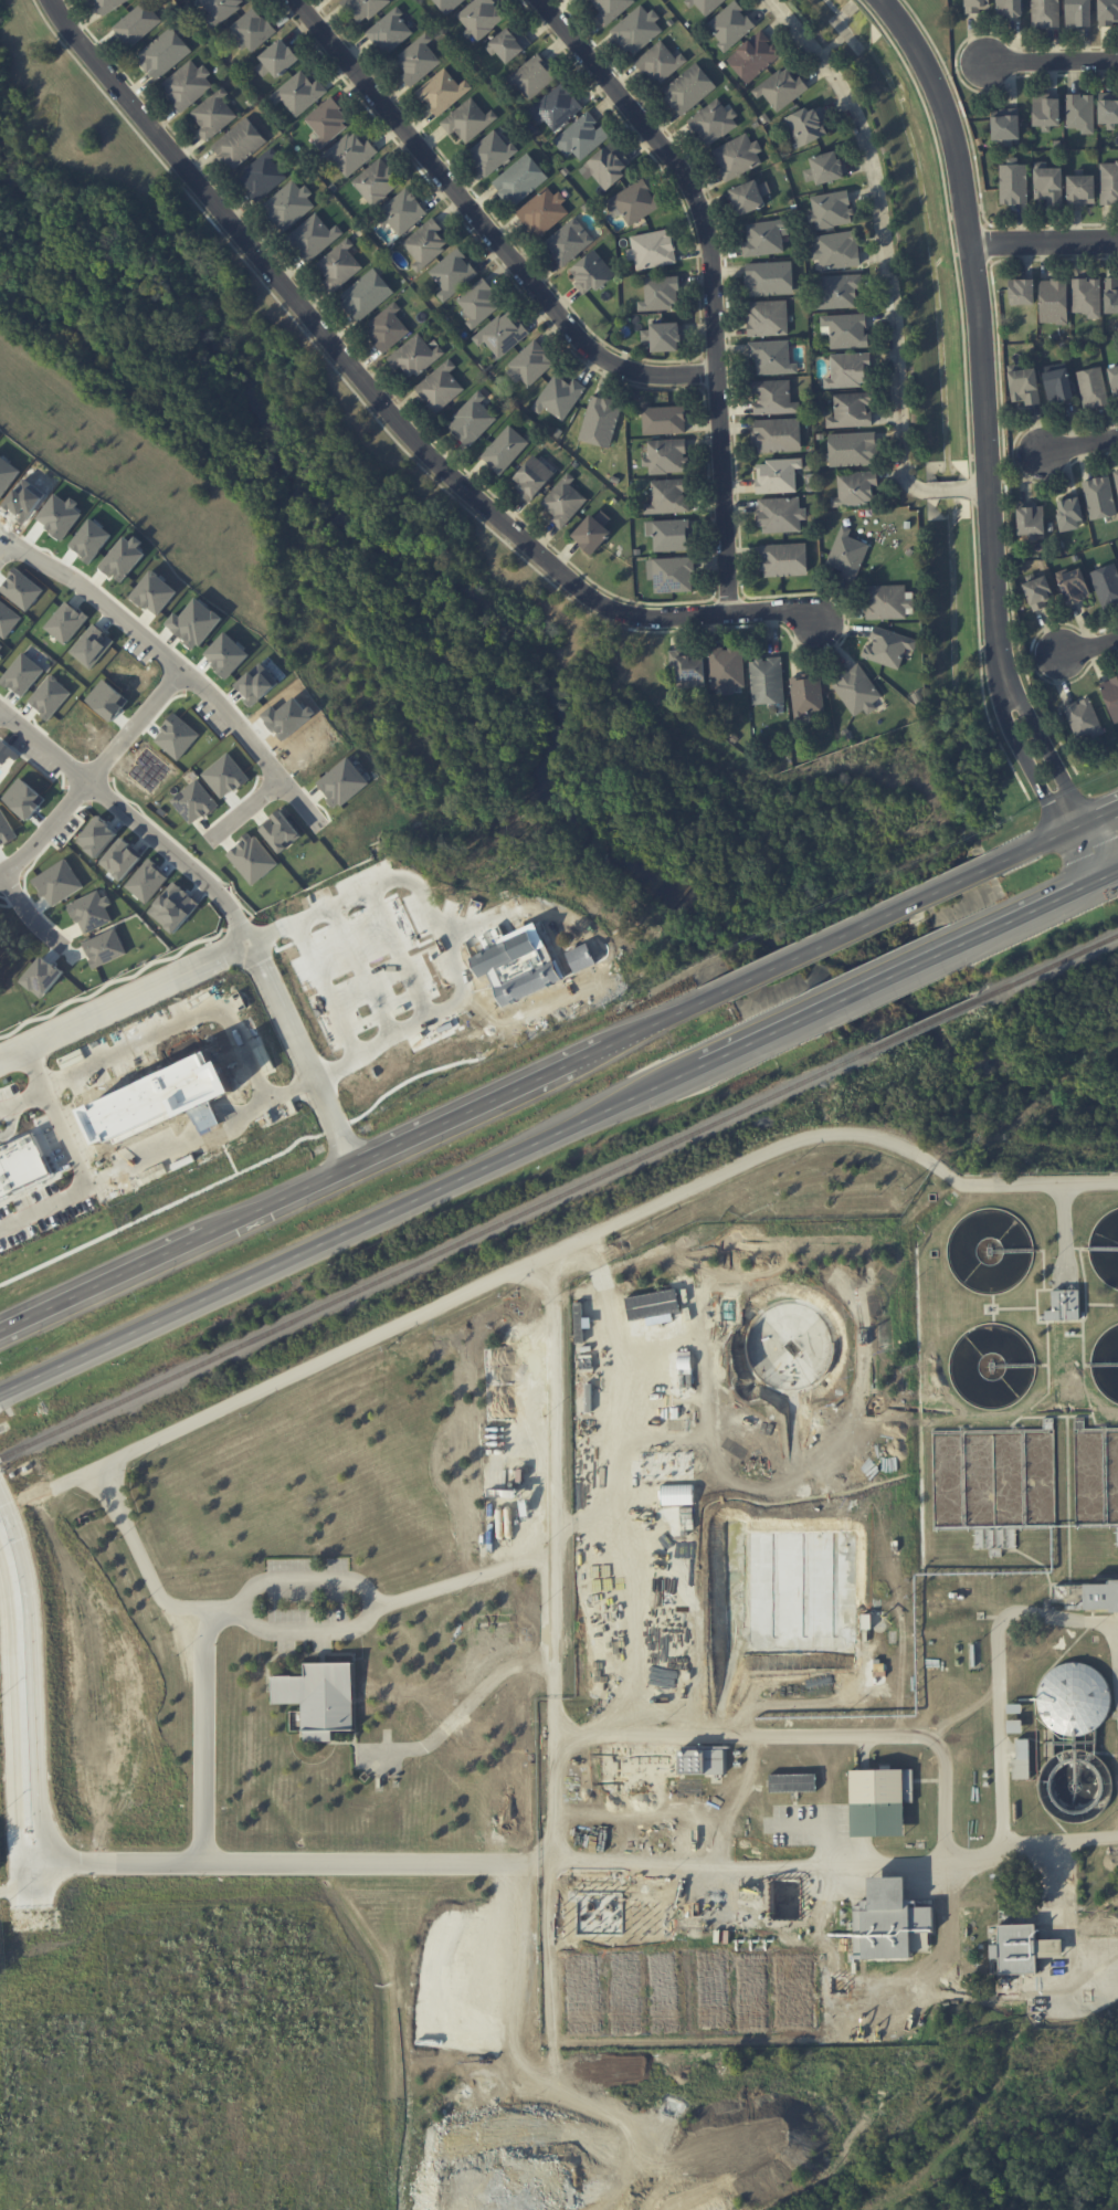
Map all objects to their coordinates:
building: (107, 4)
building: (447, 4)
building: (706, 6)
building: (977, 6)
building: (363, 8)
building: (1009, 8)
building: (221, 9)
building: (611, 9)
building: (1107, 12)
building: (1045, 13)
building: (1078, 13)
building: (481, 17)
building: (137, 23)
building: (730, 24)
building: (252, 29)
building: (637, 30)
building: (390, 31)
building: (509, 44)
building: (164, 53)
building: (753, 56)
building: (276, 60)
building: (418, 60)
building: (660, 62)
road: (1052, 62)
building: (532, 76)
building: (187, 84)
building: (688, 88)
building: (781, 88)
building: (442, 92)
building: (299, 93)
building: (556, 107)
building: (1108, 107)
building: (1046, 110)
building: (1080, 112)
building: (213, 114)
building: (468, 119)
building: (327, 122)
building: (713, 122)
building: (1005, 124)
building: (808, 125)
building: (581, 136)
building: (239, 143)
building: (351, 152)
building: (492, 152)
building: (737, 156)
building: (609, 165)
building: (824, 168)
building: (262, 175)
building: (519, 179)
building: (377, 180)
building: (1013, 182)
building: (1108, 182)
building: (1048, 183)
building: (1080, 189)
building: (749, 196)
building: (633, 201)
building: (288, 204)
building: (831, 209)
building: (403, 211)
building: (542, 211)
road: (486, 227)
building: (314, 235)
building: (762, 239)
building: (569, 241)
road: (1045, 242)
building: (425, 243)
building: (652, 249)
building: (835, 251)
building: (339, 265)
road: (889, 267)
building: (591, 272)
building: (453, 273)
building: (768, 277)
road: (713, 278)
building: (840, 290)
building: (1022, 291)
building: (660, 293)
building: (366, 294)
building: (1111, 294)
building: (1086, 296)
building: (1053, 301)
building: (479, 302)
building: (767, 317)
building: (387, 327)
building: (845, 329)
building: (503, 334)
building: (663, 336)
building: (415, 356)
building: (772, 357)
building: (529, 364)
building: (848, 370)
building: (1114, 380)
building: (1057, 381)
building: (1023, 383)
building: (440, 386)
building: (1091, 387)
building: (559, 397)
building: (773, 397)
road: (380, 402)
building: (851, 410)
building: (472, 419)
building: (663, 419)
building: (600, 420)
building: (777, 434)
road: (988, 440)
road: (1080, 444)
building: (504, 449)
building: (853, 449)
building: (666, 455)
building: (777, 475)
building: (532, 476)
building: (1116, 477)
building: (855, 488)
building: (668, 496)
building: (1099, 497)
building: (565, 502)
building: (1069, 513)
building: (780, 514)
building: (1031, 519)
building: (592, 532)
building: (669, 534)
road: (31, 552)
building: (846, 554)
building: (123, 558)
building: (783, 559)
road: (11, 564)
building: (671, 573)
building: (1106, 585)
building: (1074, 586)
building: (1038, 591)
building: (154, 592)
building: (887, 601)
building: (66, 622)
building: (887, 646)
road: (1089, 649)
building: (688, 667)
building: (726, 669)
building: (767, 681)
road: (203, 687)
building: (856, 690)
building: (806, 694)
building: (1111, 696)
building: (1083, 717)
building: (179, 735)
building: (151, 768)
road: (94, 775)
building: (228, 775)
building: (346, 782)
building: (28, 798)
building: (198, 801)
road: (245, 809)
building: (373, 811)
road: (1099, 817)
building: (7, 829)
building: (286, 831)
building: (99, 835)
road: (1040, 842)
building: (126, 857)
building: (255, 857)
road: (1114, 871)
building: (61, 881)
building: (148, 881)
road: (211, 883)
road: (1067, 893)
building: (177, 907)
building: (95, 909)
road: (29, 912)
road: (338, 920)
road: (408, 922)
road: (236, 925)
road: (856, 925)
road: (261, 932)
road: (445, 933)
road: (447, 938)
building: (107, 947)
road: (282, 947)
road: (400, 954)
railway: (1065, 961)
building: (518, 966)
road: (366, 974)
building: (48, 976)
road: (892, 976)
road: (113, 981)
road: (329, 989)
road: (124, 1001)
road: (183, 1017)
railway: (943, 1018)
road: (648, 1022)
road: (721, 1054)
road: (482, 1057)
road: (27, 1094)
building: (159, 1097)
road: (479, 1104)
road: (67, 1113)
road: (337, 1127)
road: (218, 1136)
road: (354, 1141)
road: (333, 1151)
road: (231, 1158)
building: (20, 1164)
road: (161, 1164)
road: (1023, 1183)
road: (33, 1187)
road: (289, 1195)
road: (161, 1208)
road: (340, 1232)
railway: (437, 1254)
road: (103, 1284)
road: (465, 1295)
building: (1064, 1305)
road: (556, 1459)
road: (307, 1581)
building: (1100, 1596)
wastewater plant: (841, 1625)
road: (289, 1631)
road: (1116, 1644)
road: (999, 1676)
road: (27, 1683)
building: (319, 1697)
building: (1074, 1697)
road: (556, 1699)
road: (472, 1708)
building: (1014, 1725)
road: (204, 1732)
road: (808, 1733)
building: (1021, 1759)
building: (702, 1760)
building: (792, 1782)
building: (879, 1801)
road: (300, 1859)
road: (780, 1869)
road: (24, 1887)
road: (1068, 1918)
building: (890, 1922)
building: (1022, 1948)
road: (886, 2200)

